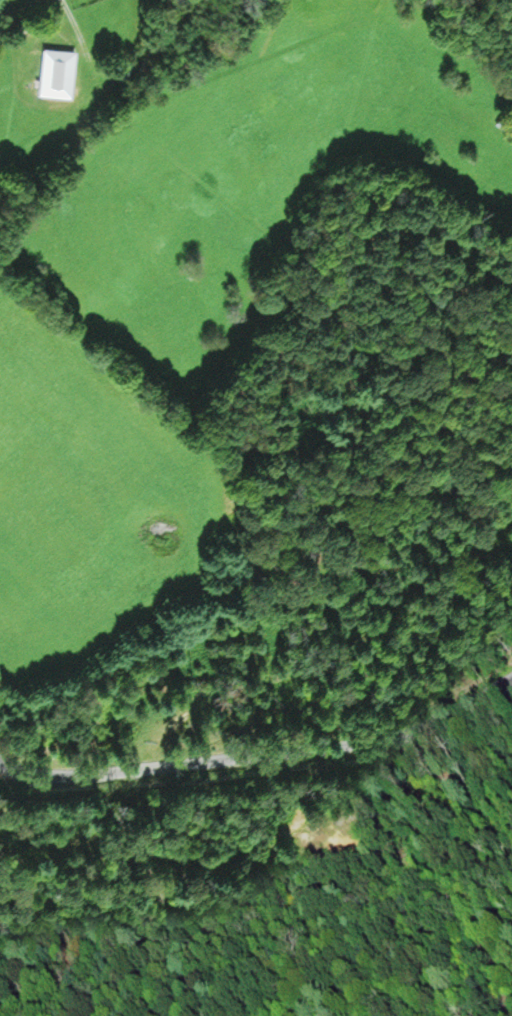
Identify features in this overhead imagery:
building: (60, 70)
road: (260, 755)

